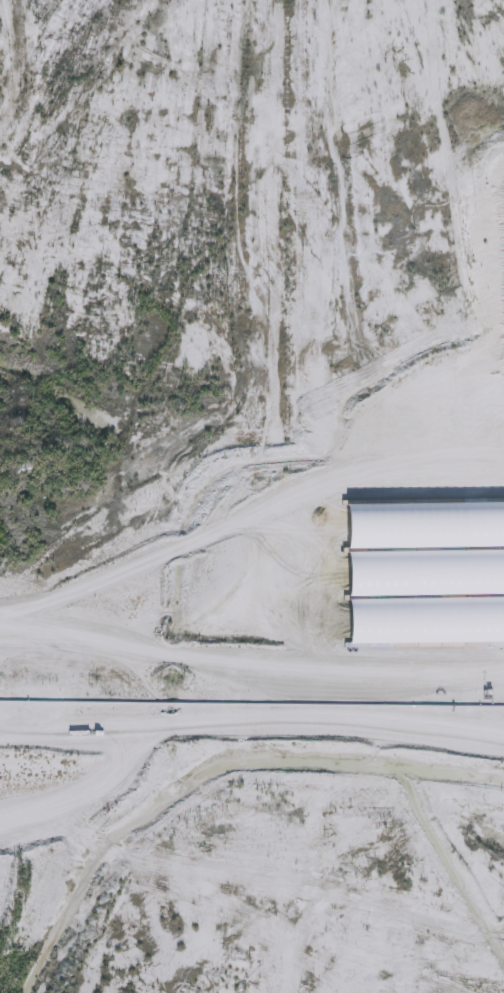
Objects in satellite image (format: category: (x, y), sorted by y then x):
road: (379, 373)
road: (139, 530)
road: (311, 691)
road: (59, 705)
road: (73, 763)

